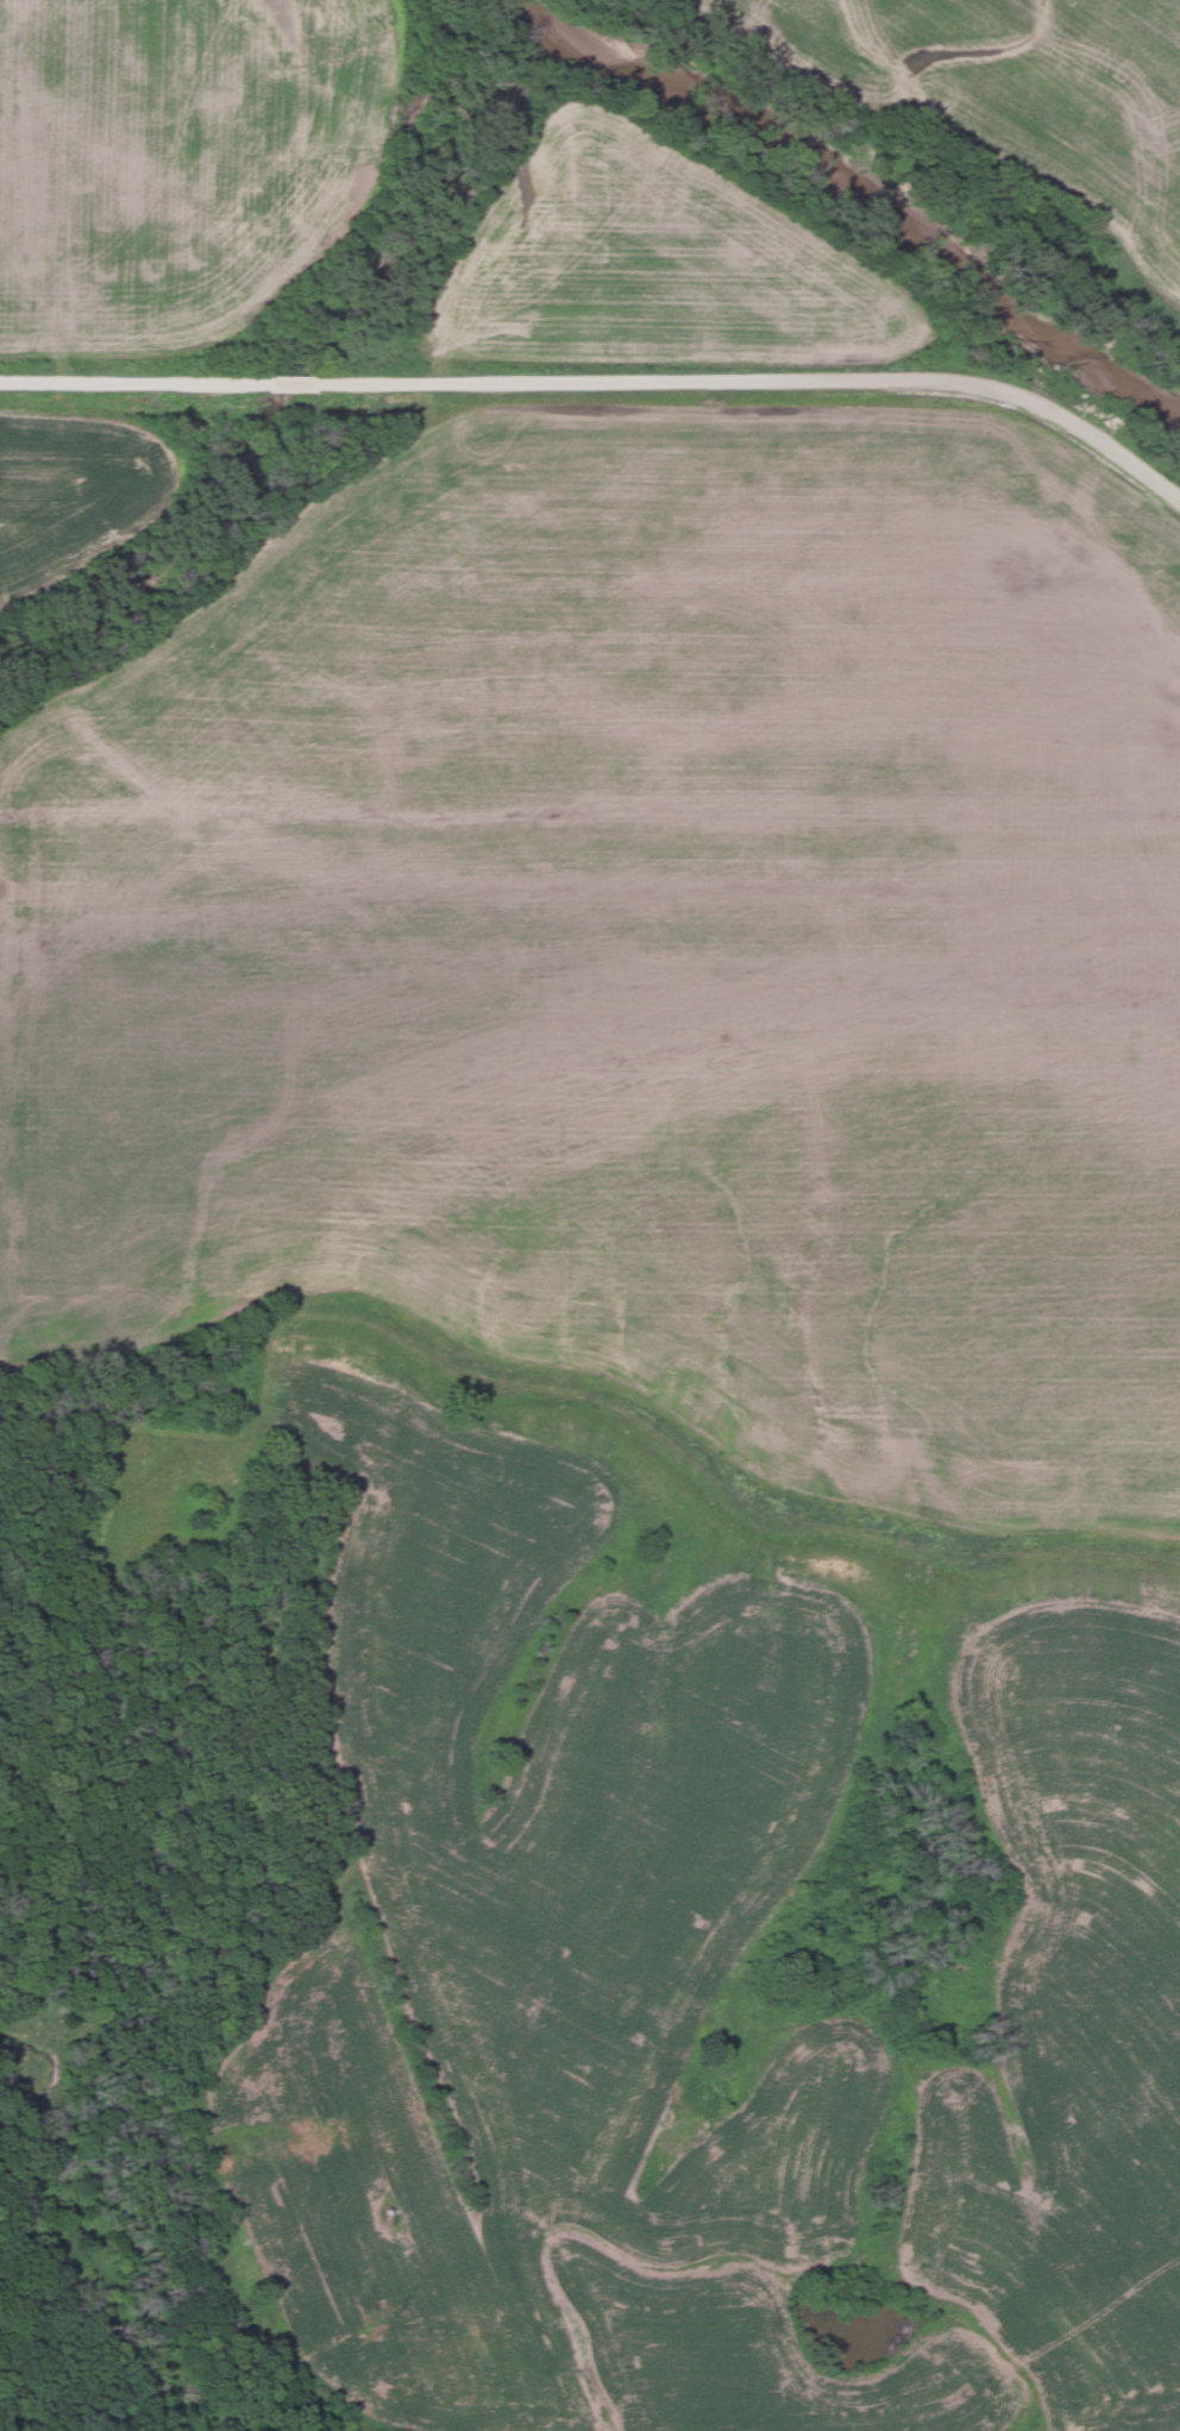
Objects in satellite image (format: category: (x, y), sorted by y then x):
road: (605, 372)

